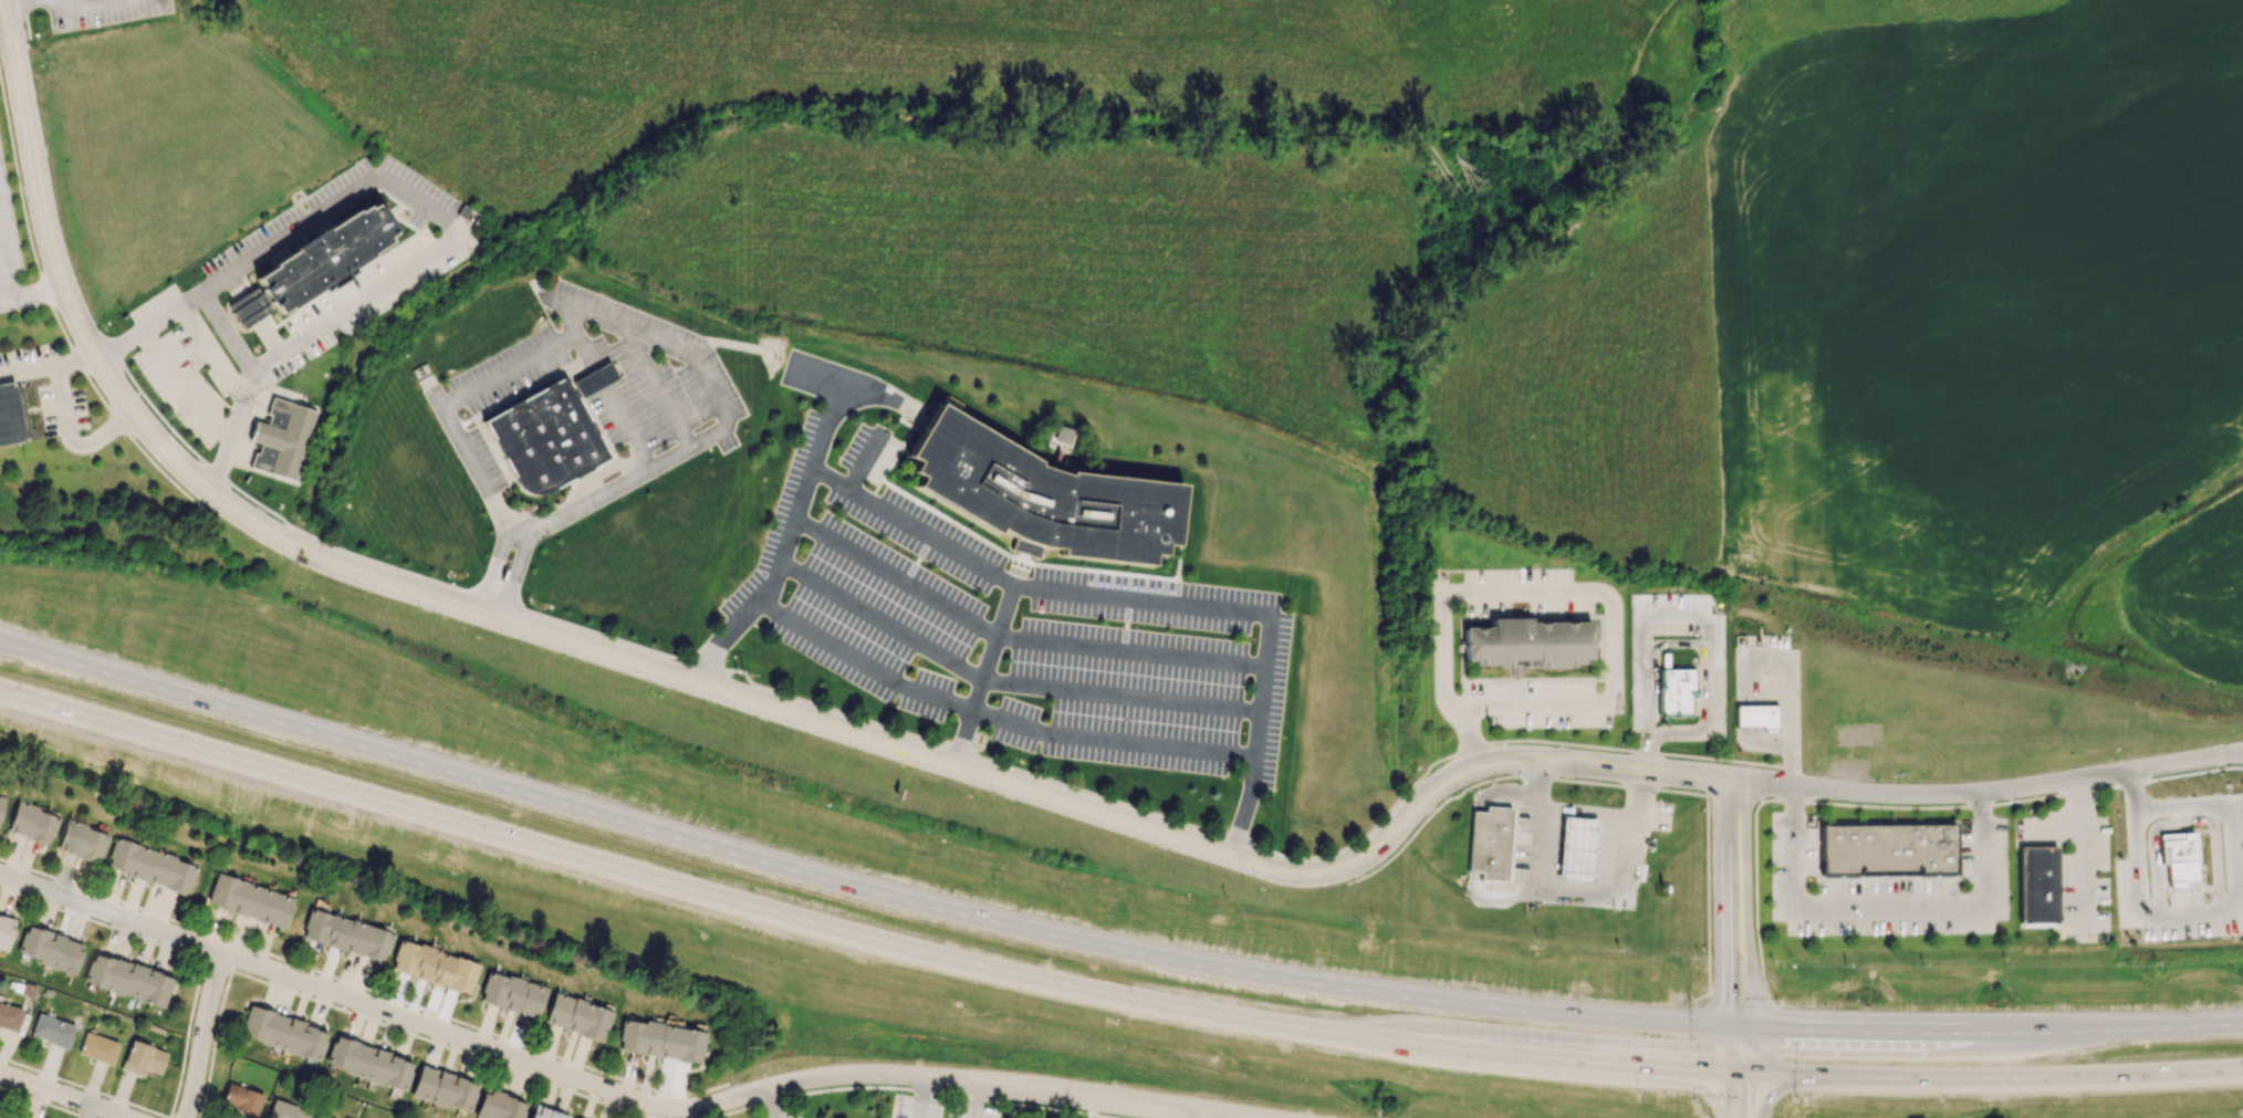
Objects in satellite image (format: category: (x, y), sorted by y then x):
road: (0, 0)
road: (20, 4)
road: (24, 19)
crop: (168, 148)
power tower: (740, 198)
road: (436, 210)
building: (333, 259)
road: (2, 282)
road: (31, 292)
building: (255, 306)
road: (254, 314)
road: (60, 327)
road: (226, 332)
road: (724, 339)
road: (216, 351)
road: (509, 366)
road: (27, 370)
building: (594, 378)
parking lot: (181, 380)
parking lot: (46, 386)
road: (836, 404)
road: (39, 406)
building: (9, 414)
road: (63, 417)
building: (1061, 433)
building: (546, 438)
building: (285, 439)
road: (680, 448)
building: (1037, 493)
road: (1032, 581)
road: (1610, 607)
parking lot: (1013, 628)
road: (1015, 635)
building: (1526, 641)
road: (1694, 644)
road: (35, 652)
road: (980, 672)
road: (1786, 673)
power tower: (740, 678)
road: (1005, 681)
building: (1676, 691)
building: (1755, 714)
road: (994, 715)
road: (1751, 729)
road: (926, 740)
road: (1647, 752)
road: (1788, 765)
road: (2240, 766)
road: (952, 770)
road: (1506, 776)
road: (1503, 793)
road: (1735, 794)
road: (1839, 803)
building: (31, 823)
road: (1537, 827)
building: (81, 840)
building: (1471, 840)
road: (1472, 840)
building: (1492, 842)
parking lot: (1568, 848)
building: (1576, 848)
building: (1884, 849)
road: (1738, 855)
road: (2082, 856)
building: (2178, 857)
building: (150, 865)
road: (1626, 875)
building: (2037, 885)
parking lot: (1889, 888)
road: (1491, 895)
building: (249, 899)
road: (1708, 902)
road: (1884, 909)
road: (2214, 910)
building: (6, 931)
building: (346, 934)
building: (49, 949)
road: (1140, 954)
building: (434, 965)
road: (1729, 975)
road: (1749, 976)
building: (127, 979)
road: (362, 985)
road: (1104, 993)
building: (512, 994)
road: (1739, 1000)
road: (328, 1003)
building: (9, 1016)
building: (577, 1016)
building: (51, 1030)
traffic signals: (1749, 1030)
building: (283, 1032)
road: (202, 1036)
building: (660, 1039)
building: (97, 1047)
power tower: (759, 1047)
road: (1771, 1051)
building: (143, 1058)
building: (368, 1063)
road: (1728, 1072)
traffic signals: (1749, 1073)
road: (1749, 1074)
road: (592, 1087)
building: (444, 1088)
road: (957, 1094)
road: (60, 1096)
road: (772, 1098)
road: (917, 1098)
building: (241, 1099)
road: (970, 1101)
road: (770, 1105)
building: (500, 1106)
parking lot: (938, 1108)
road: (1089, 1109)
road: (1772, 1109)
building: (285, 1110)
road: (730, 1111)
building: (545, 1112)
building: (319, 1116)
road: (1192, 1117)

